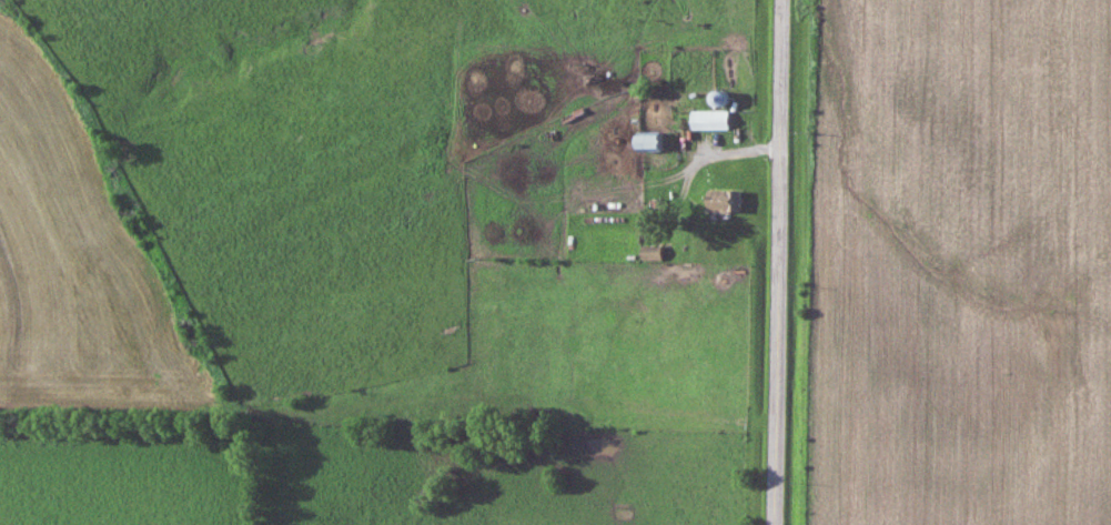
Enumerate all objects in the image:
building: (711, 119)
building: (652, 140)
building: (726, 199)
building: (653, 252)
road: (774, 262)

